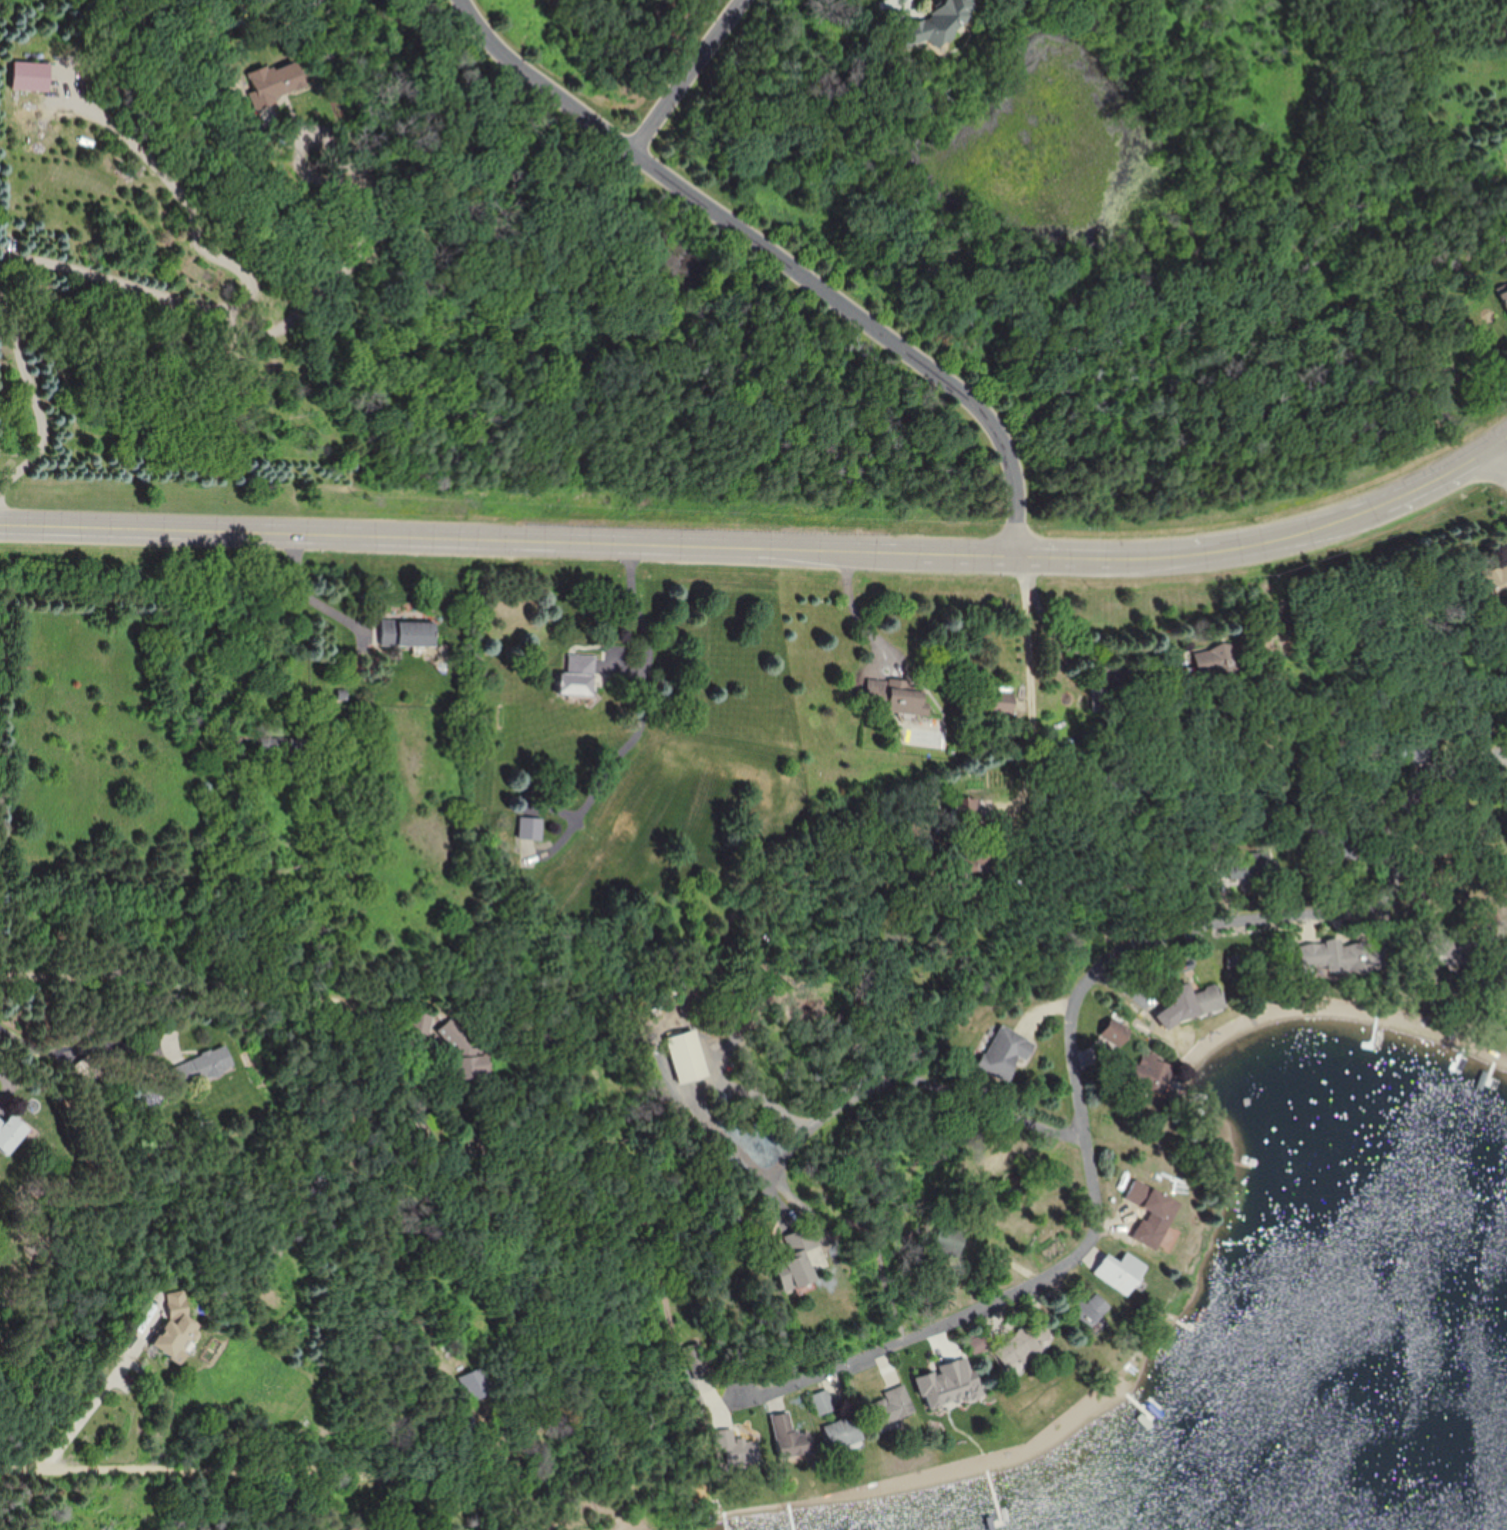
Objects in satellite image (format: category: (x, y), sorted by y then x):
road: (741, 0)
building: (941, 22)
road: (687, 75)
building: (30, 76)
building: (277, 84)
road: (184, 197)
road: (773, 261)
road: (155, 289)
building: (1504, 296)
road: (1498, 458)
road: (767, 554)
building: (1494, 581)
road: (635, 610)
road: (861, 616)
building: (407, 632)
building: (1221, 659)
road: (1026, 669)
building: (578, 676)
building: (898, 696)
building: (1102, 699)
building: (1000, 702)
road: (608, 775)
building: (967, 810)
building: (531, 828)
building: (1253, 864)
building: (1346, 955)
road: (225, 991)
building: (1195, 1000)
building: (421, 1023)
road: (1073, 1031)
building: (1113, 1035)
building: (1006, 1052)
building: (686, 1057)
building: (214, 1061)
building: (1150, 1072)
road: (699, 1083)
road: (889, 1085)
building: (11, 1133)
building: (1152, 1212)
building: (798, 1261)
building: (1120, 1272)
building: (1090, 1312)
building: (177, 1329)
building: (1022, 1346)
building: (952, 1381)
building: (476, 1383)
road: (101, 1389)
building: (823, 1402)
building: (891, 1406)
building: (843, 1433)
building: (790, 1438)
building: (739, 1450)
road: (297, 1475)
building: (620, 1524)

